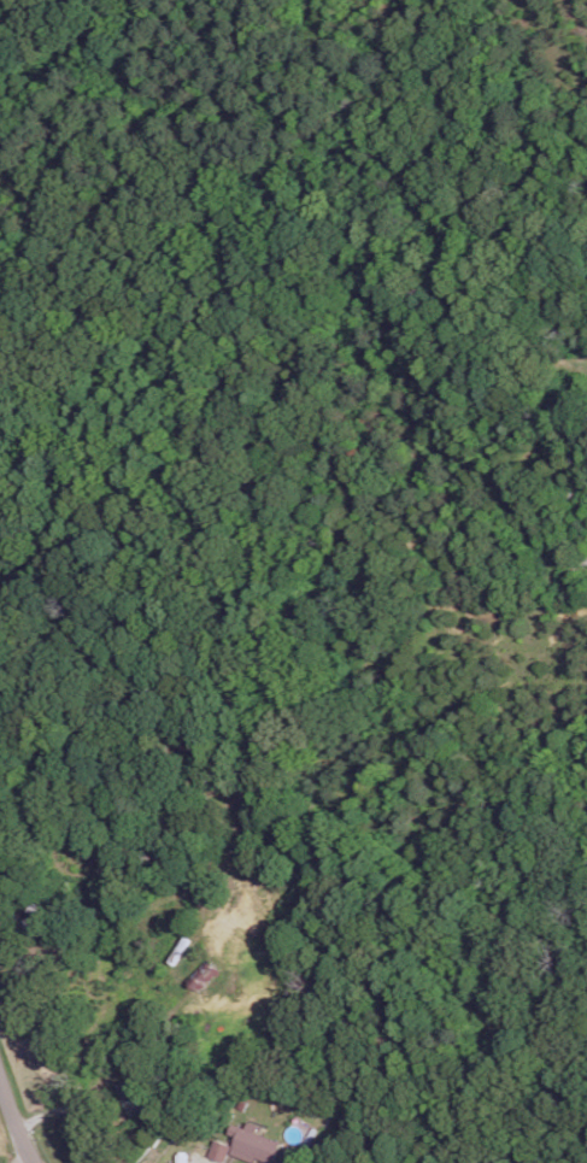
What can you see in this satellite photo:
building: (202, 973)
building: (131, 1096)
road: (13, 1126)
building: (253, 1145)
building: (218, 1150)
road: (215, 1157)

